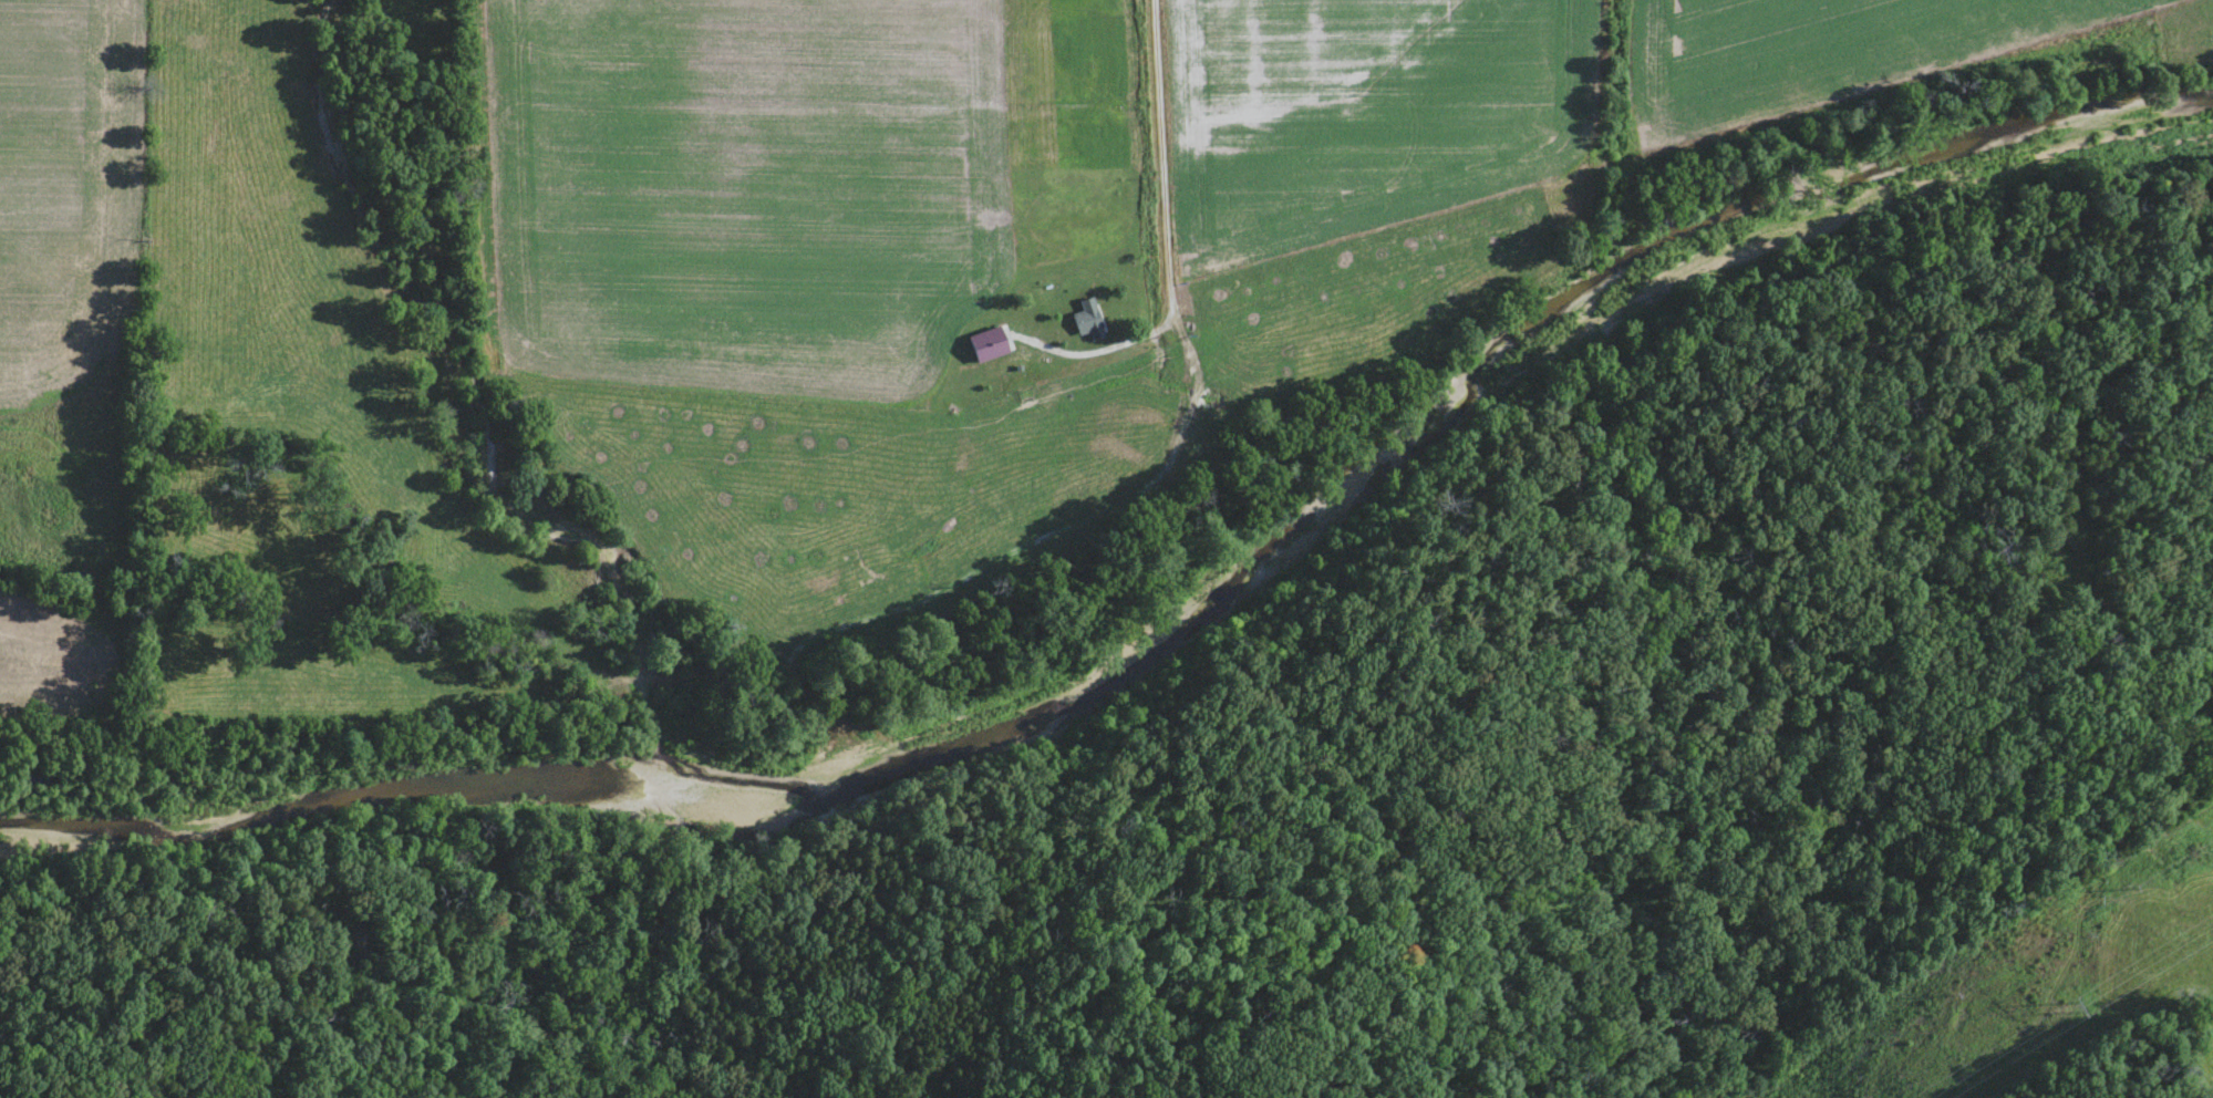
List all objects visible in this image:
road: (1165, 239)
building: (1085, 321)
building: (985, 345)
building: (974, 389)

